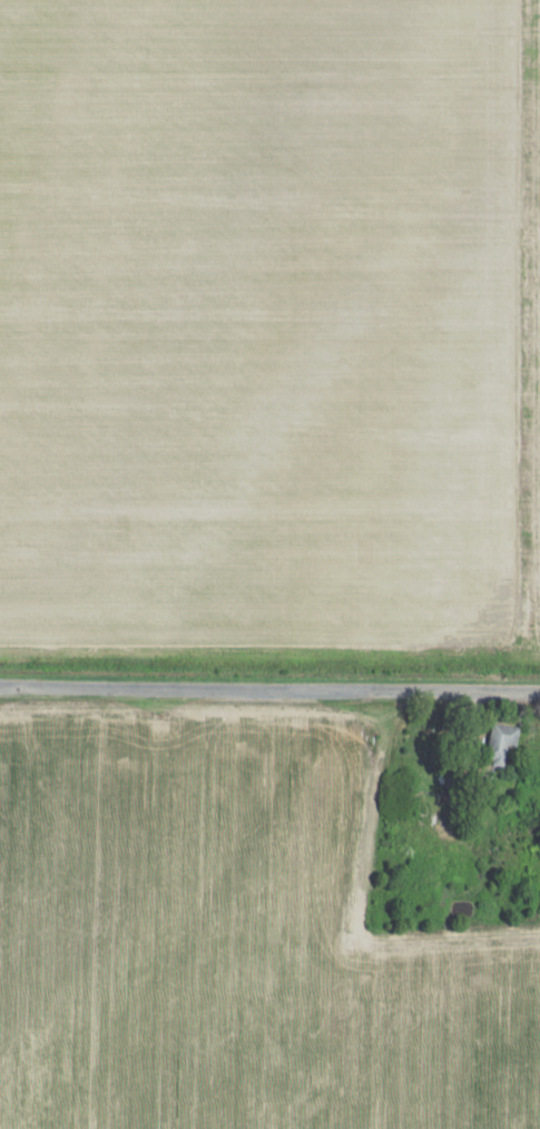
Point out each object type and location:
road: (269, 693)
building: (500, 743)

